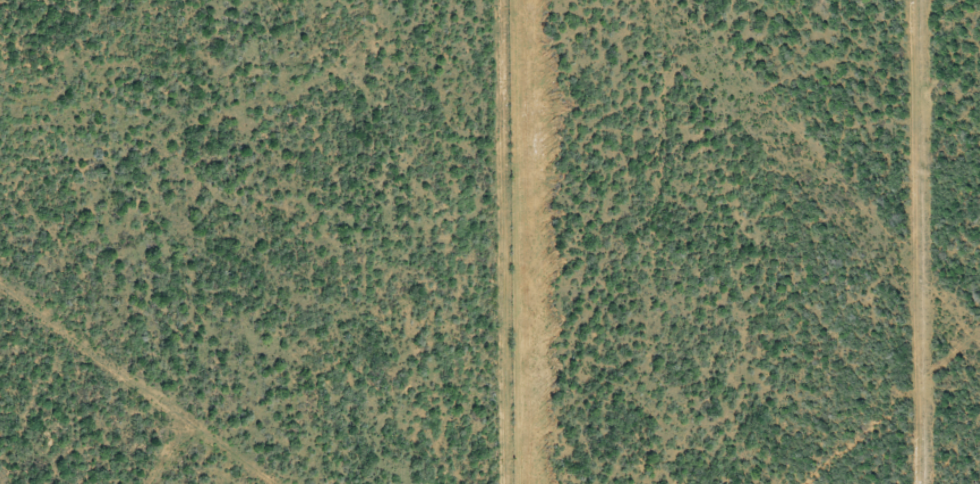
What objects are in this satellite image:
road: (935, 242)

